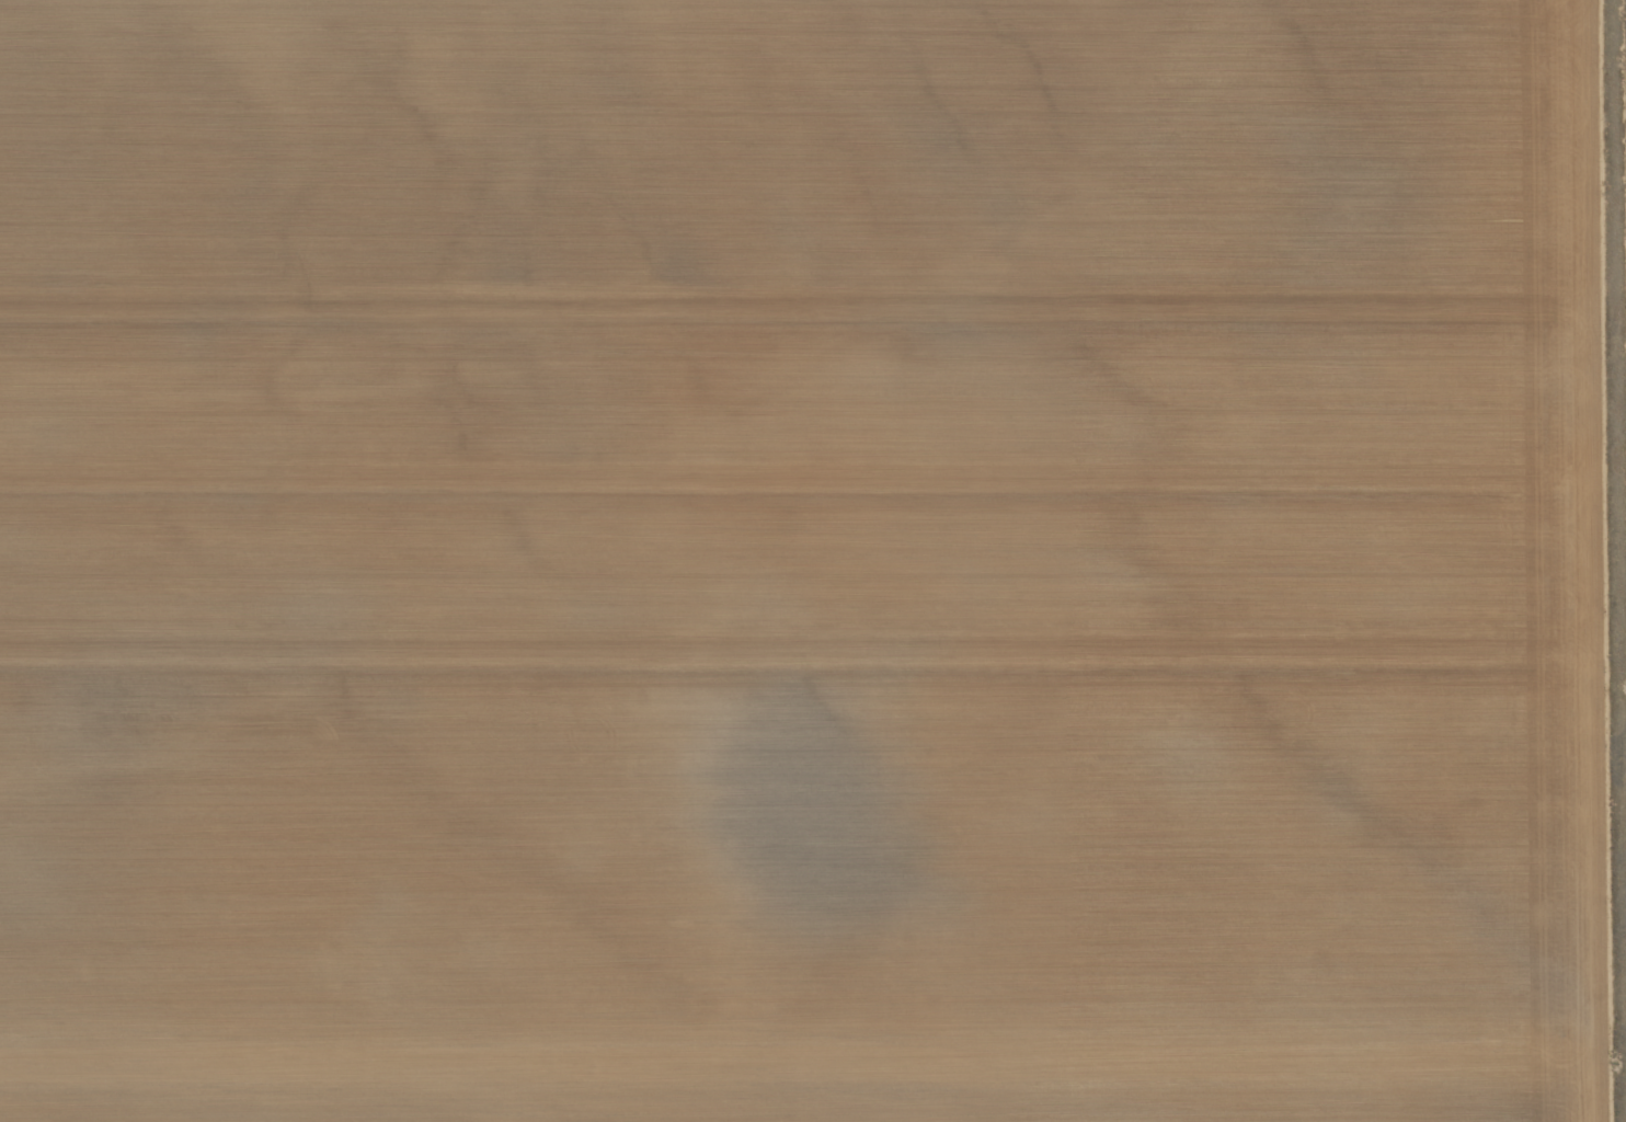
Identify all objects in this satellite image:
road: (1604, 561)

